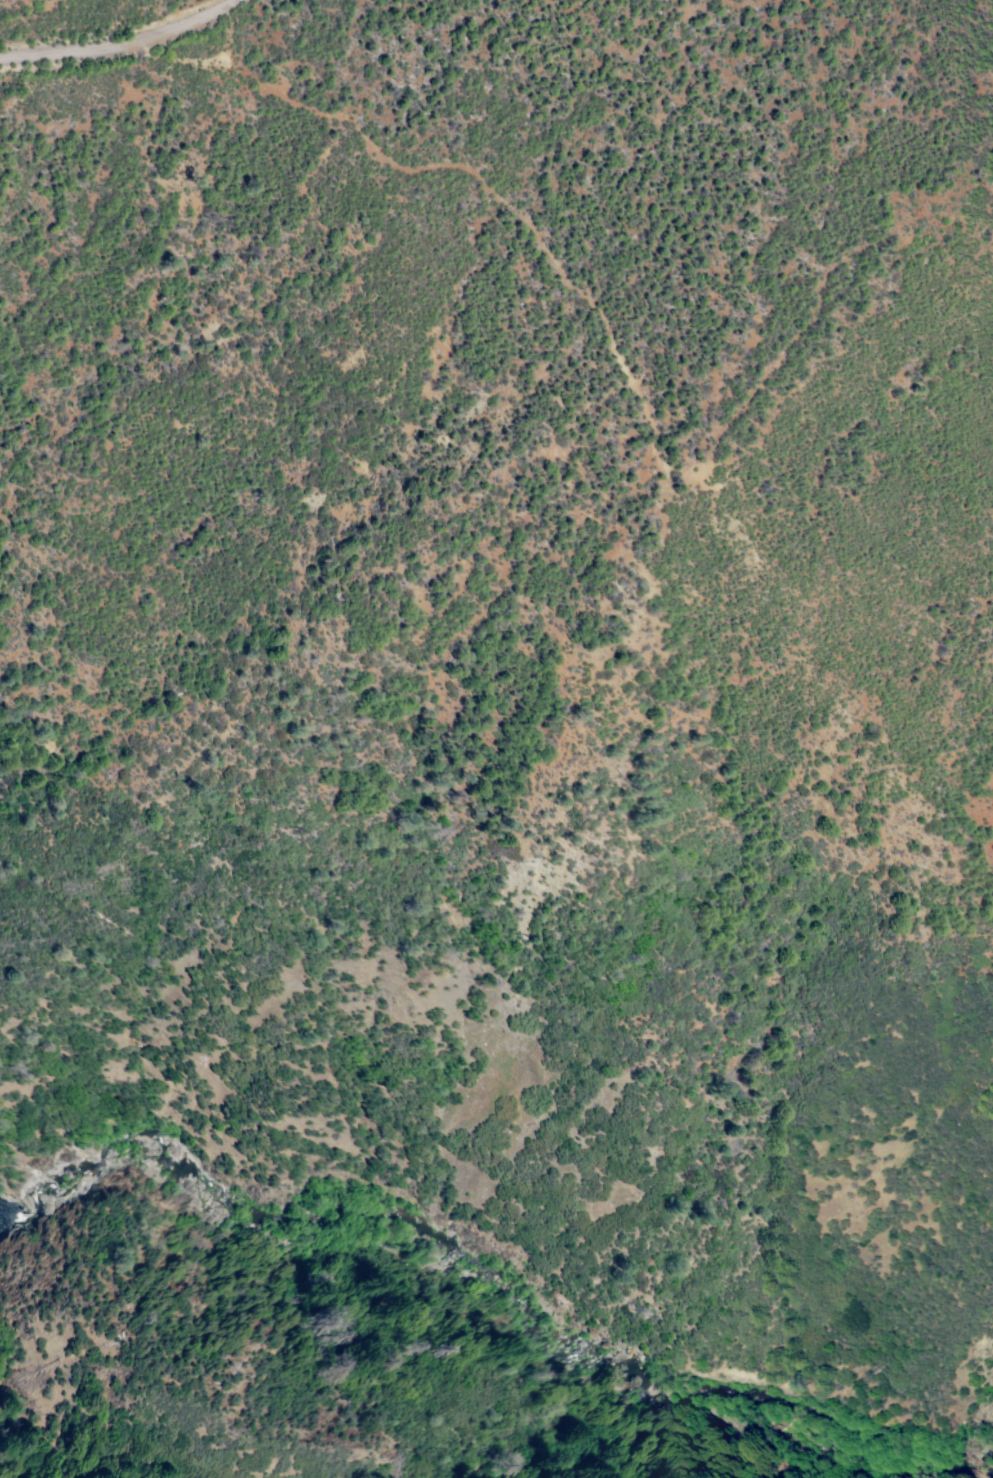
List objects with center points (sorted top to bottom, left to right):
road: (118, 39)

